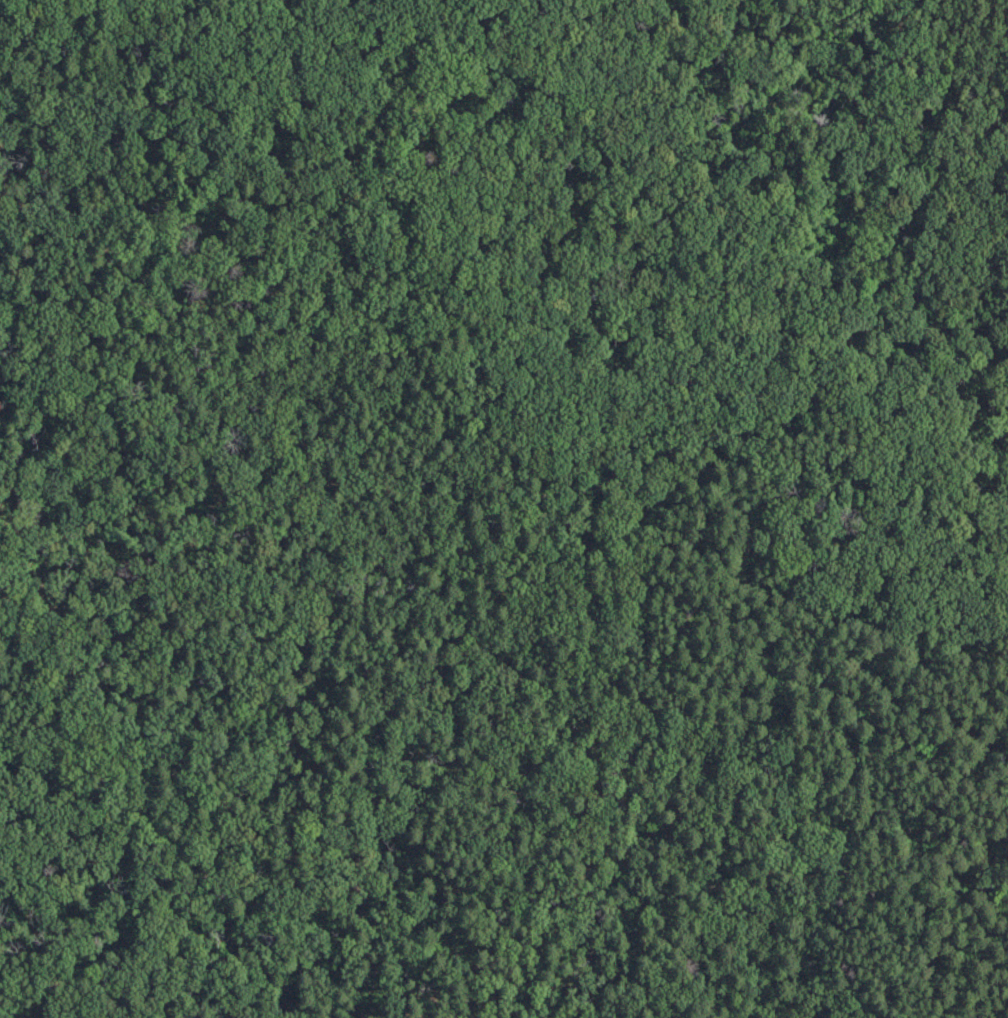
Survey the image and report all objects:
road: (806, 102)
road: (942, 235)
road: (1002, 278)
road: (1004, 379)
road: (640, 582)

